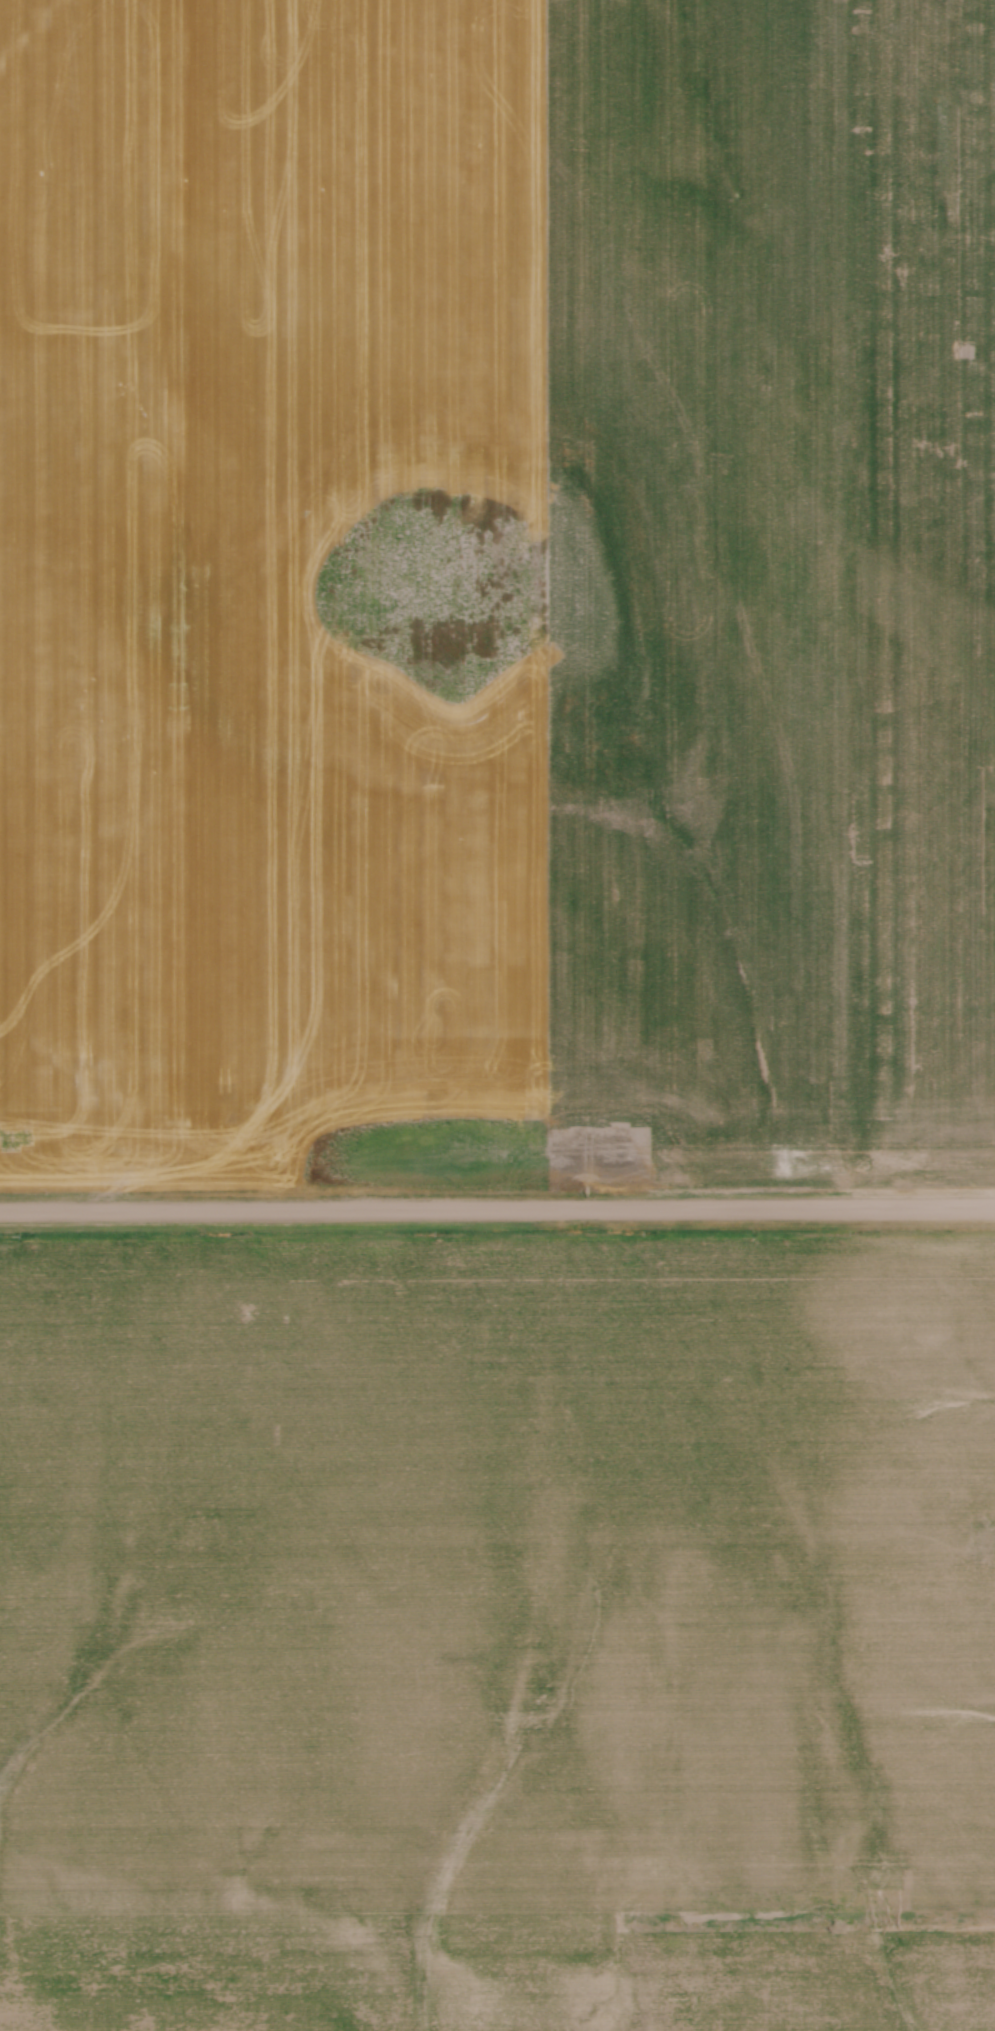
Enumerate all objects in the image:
road: (497, 1208)

